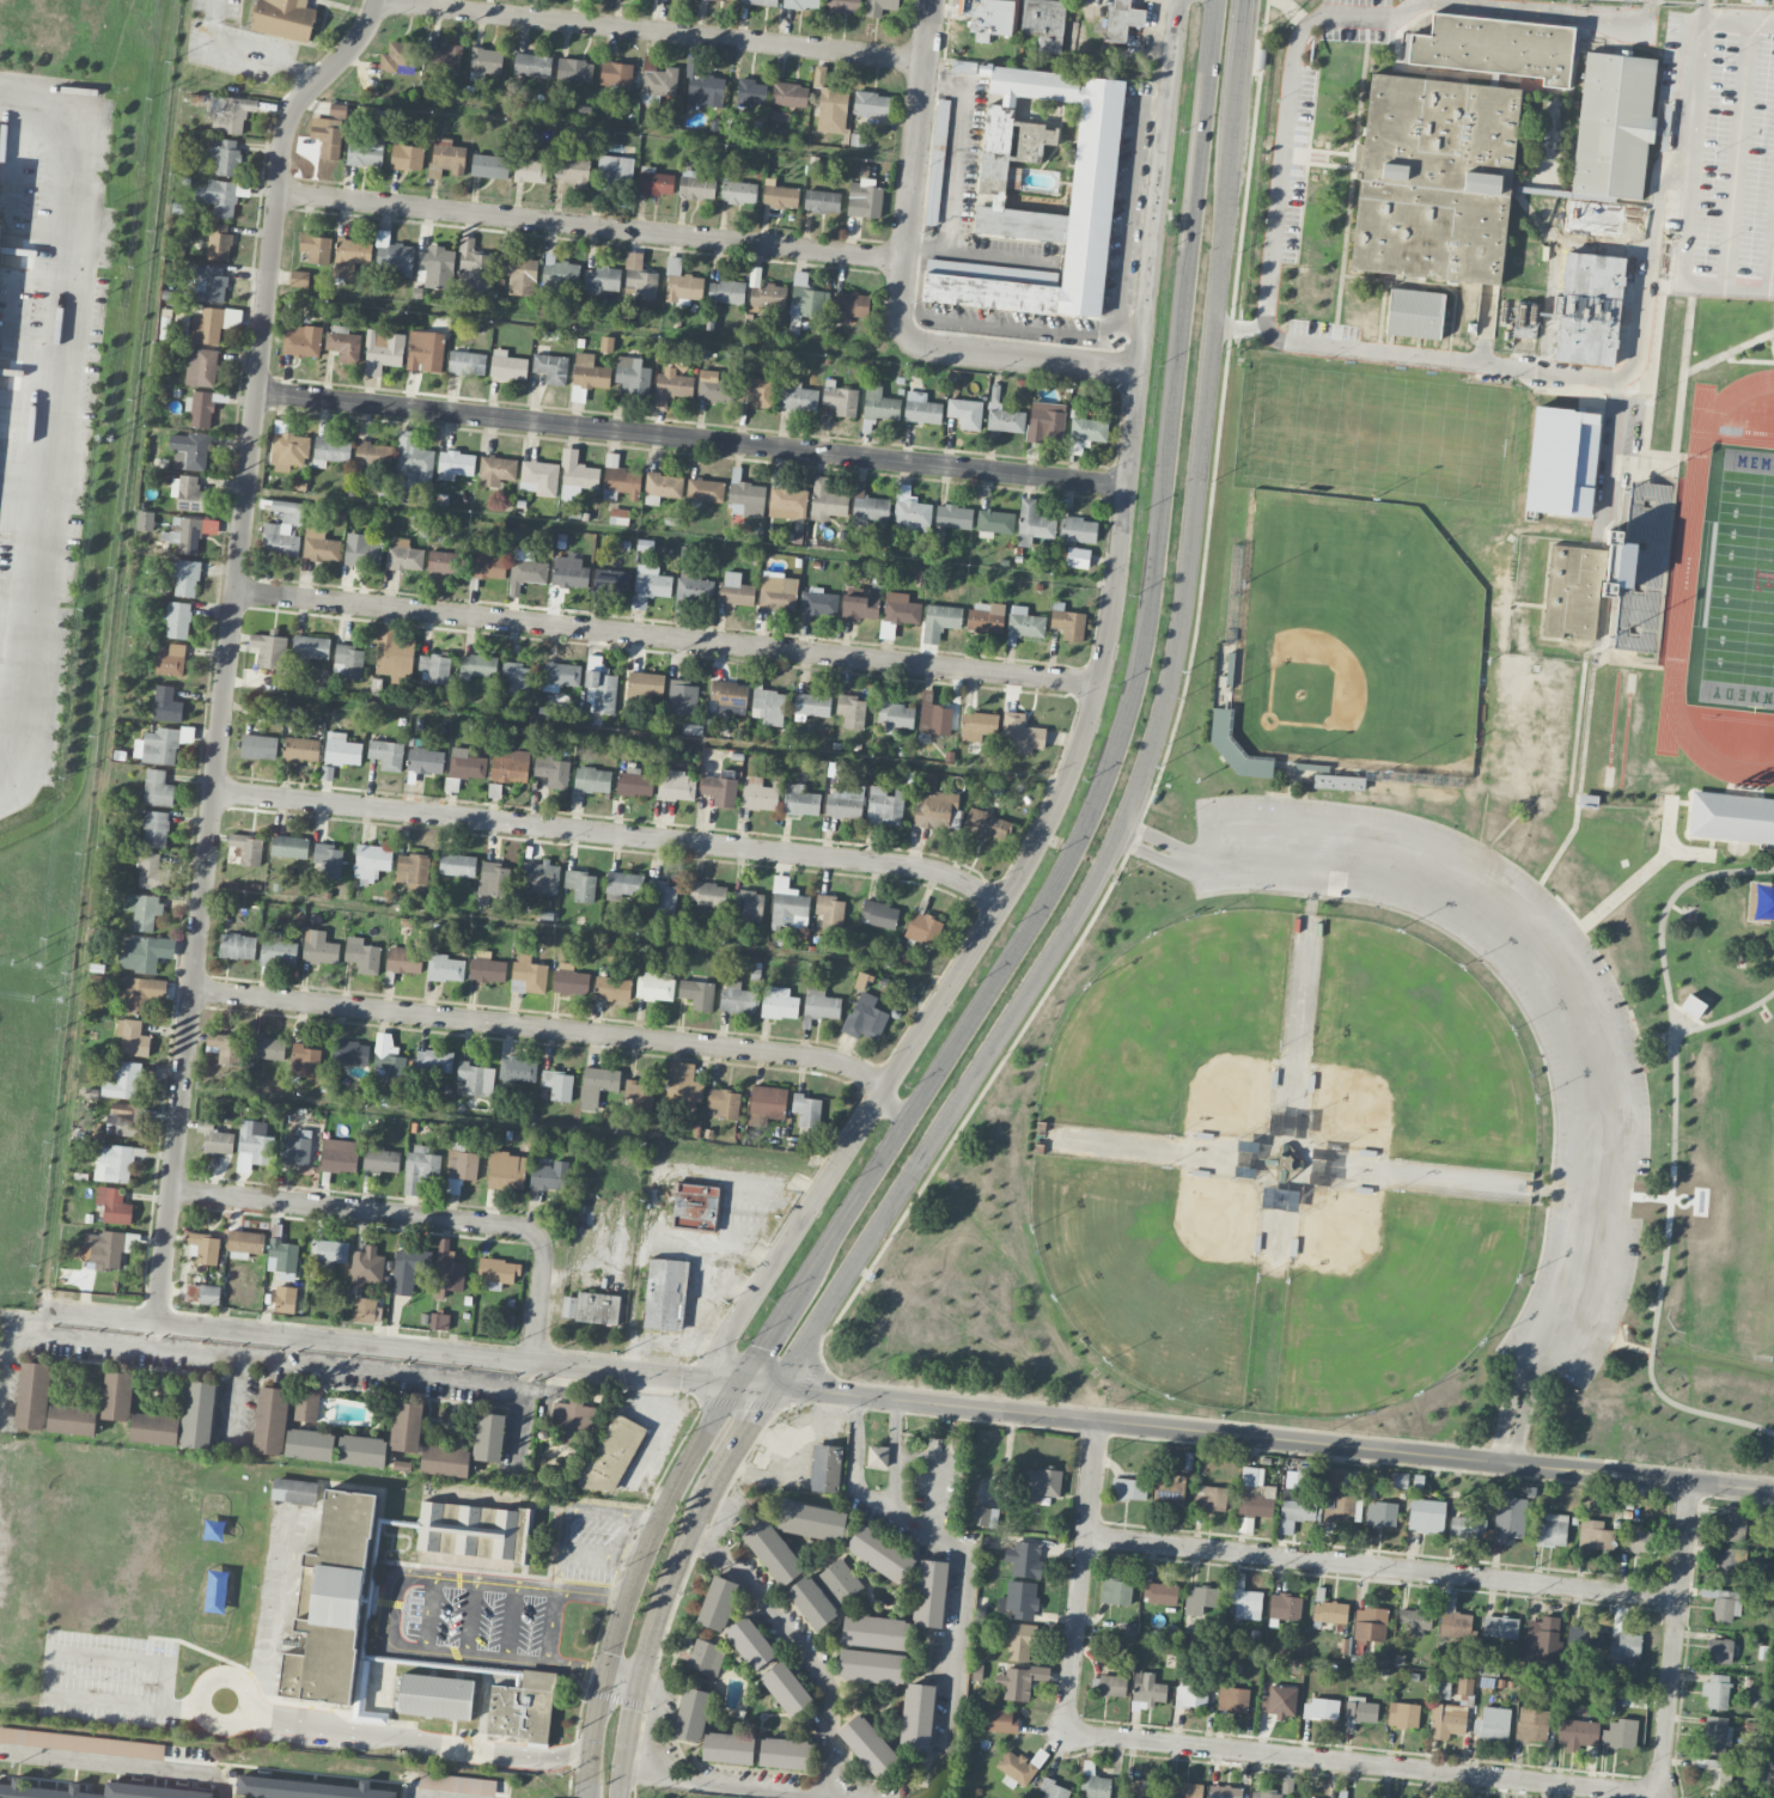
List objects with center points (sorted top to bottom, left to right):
building: (731, 0)
building: (761, 1)
building: (800, 4)
road: (1482, 5)
building: (842, 6)
building: (879, 6)
road: (1703, 8)
building: (990, 16)
building: (284, 18)
building: (1122, 19)
road: (1735, 19)
building: (1044, 22)
road: (657, 29)
building: (1495, 45)
building: (398, 57)
building: (444, 59)
building: (486, 60)
building: (532, 65)
road: (331, 67)
building: (574, 69)
building: (616, 73)
building: (819, 75)
building: (657, 80)
building: (702, 85)
building: (751, 91)
building: (790, 93)
road: (1693, 93)
building: (871, 103)
building: (831, 109)
road: (39, 114)
building: (230, 114)
building: (780, 116)
road: (611, 124)
building: (1613, 124)
building: (330, 132)
building: (364, 152)
road: (955, 154)
building: (225, 156)
building: (407, 157)
building: (446, 157)
road: (1282, 157)
building: (937, 160)
building: (489, 165)
building: (571, 169)
building: (615, 169)
building: (530, 170)
road: (914, 171)
building: (1434, 177)
building: (654, 181)
building: (0, 182)
building: (695, 185)
building: (1041, 190)
building: (738, 191)
building: (779, 195)
building: (222, 196)
building: (864, 199)
building: (822, 201)
road: (1685, 212)
building: (1613, 220)
road: (593, 226)
building: (0, 233)
building: (219, 242)
building: (316, 248)
road: (981, 252)
building: (350, 255)
building: (392, 256)
building: (435, 267)
building: (474, 268)
building: (560, 272)
building: (519, 274)
building: (299, 278)
building: (639, 278)
building: (602, 279)
building: (208, 282)
building: (682, 284)
building: (726, 291)
building: (764, 292)
building: (806, 298)
building: (851, 305)
building: (1589, 307)
road: (1120, 310)
building: (629, 311)
building: (1414, 311)
building: (1525, 319)
road: (599, 323)
building: (208, 324)
road: (1132, 329)
building: (301, 340)
building: (343, 343)
building: (606, 343)
building: (383, 351)
building: (425, 351)
road: (1024, 358)
road: (1480, 361)
building: (467, 362)
building: (507, 366)
building: (201, 367)
building: (551, 367)
building: (590, 372)
building: (632, 374)
building: (671, 385)
building: (713, 386)
building: (757, 390)
building: (798, 396)
building: (840, 398)
building: (879, 403)
building: (921, 408)
building: (201, 409)
building: (965, 413)
building: (1005, 419)
building: (1045, 421)
building: (1089, 429)
road: (693, 438)
park: (1450, 444)
building: (288, 447)
road: (43, 450)
building: (189, 450)
building: (330, 450)
building: (373, 456)
building: (413, 462)
building: (1562, 462)
building: (455, 464)
building: (496, 470)
building: (575, 474)
building: (539, 477)
building: (621, 483)
building: (662, 487)
building: (705, 489)
building: (188, 493)
building: (748, 498)
building: (827, 501)
building: (787, 502)
building: (870, 507)
building: (910, 511)
building: (953, 516)
building: (145, 520)
building: (995, 520)
building: (1032, 523)
building: (1078, 529)
building: (282, 530)
building: (189, 532)
road: (682, 535)
building: (319, 543)
building: (361, 550)
building: (403, 555)
building: (1078, 557)
building: (446, 562)
building: (487, 565)
building: (1642, 565)
building: (528, 567)
track: (1684, 568)
building: (569, 571)
road: (1117, 571)
building: (184, 577)
building: (611, 579)
stadium: (1675, 584)
park: (1735, 584)
building: (650, 586)
building: (694, 587)
building: (734, 590)
building: (778, 591)
building: (1574, 591)
building: (818, 602)
building: (860, 608)
building: (901, 609)
building: (986, 616)
building: (177, 620)
building: (939, 621)
building: (1067, 622)
building: (1023, 623)
park: (1355, 634)
road: (666, 636)
building: (309, 647)
building: (269, 648)
building: (394, 653)
road: (112, 656)
building: (171, 660)
building: (348, 662)
building: (477, 665)
building: (435, 668)
building: (560, 675)
building: (517, 677)
road: (1133, 678)
building: (645, 684)
building: (599, 688)
building: (727, 693)
building: (682, 697)
building: (166, 703)
building: (768, 706)
building: (811, 706)
building: (851, 711)
building: (894, 712)
building: (934, 715)
building: (977, 725)
road: (220, 729)
building: (1020, 732)
road: (647, 733)
building: (160, 744)
building: (258, 746)
building: (300, 749)
building: (341, 749)
building: (386, 754)
building: (425, 760)
building: (465, 764)
building: (510, 766)
building: (551, 769)
building: (327, 772)
building: (592, 779)
building: (1339, 781)
building: (634, 782)
building: (675, 785)
building: (158, 788)
building: (719, 790)
building: (757, 794)
building: (846, 799)
building: (800, 800)
building: (884, 805)
building: (934, 809)
building: (1732, 816)
building: (987, 824)
building: (156, 829)
road: (612, 834)
road: (1159, 837)
building: (289, 846)
building: (248, 848)
road: (1151, 857)
building: (328, 860)
building: (371, 861)
building: (457, 865)
building: (413, 867)
building: (151, 871)
building: (541, 877)
building: (493, 878)
building: (623, 883)
building: (580, 884)
building: (707, 894)
building: (662, 897)
building: (748, 903)
building: (788, 904)
building: (144, 910)
building: (829, 912)
building: (878, 914)
road: (578, 927)
building: (923, 928)
road: (1063, 944)
building: (237, 946)
building: (319, 947)
building: (276, 949)
building: (145, 952)
building: (362, 955)
building: (404, 961)
road: (1575, 964)
building: (487, 967)
building: (445, 968)
building: (528, 975)
building: (569, 980)
building: (654, 985)
building: (612, 988)
road: (1537, 991)
building: (140, 993)
building: (697, 994)
building: (737, 998)
building: (779, 1002)
building: (821, 1004)
building: (865, 1018)
road: (541, 1026)
road: (1696, 1026)
park: (1177, 1030)
building: (134, 1038)
building: (221, 1047)
building: (266, 1048)
building: (350, 1053)
park: (1412, 1056)
building: (389, 1059)
building: (434, 1060)
building: (305, 1061)
building: (517, 1069)
building: (476, 1078)
building: (123, 1080)
building: (559, 1084)
building: (597, 1085)
building: (683, 1085)
road: (883, 1091)
building: (641, 1096)
parking lot: (1598, 1096)
building: (724, 1103)
building: (767, 1103)
building: (806, 1109)
road: (891, 1109)
building: (124, 1120)
road: (508, 1126)
park: (1380, 1135)
building: (215, 1138)
building: (252, 1147)
building: (295, 1147)
building: (1245, 1151)
road: (1672, 1152)
building: (339, 1156)
building: (382, 1159)
building: (1282, 1159)
building: (114, 1163)
building: (420, 1165)
building: (461, 1166)
building: (506, 1170)
building: (548, 1177)
road: (1599, 1191)
road: (1647, 1196)
building: (114, 1205)
building: (695, 1206)
road: (417, 1215)
park: (1736, 1231)
road: (791, 1237)
building: (245, 1243)
building: (109, 1248)
building: (205, 1248)
building: (282, 1256)
building: (366, 1266)
park: (1152, 1267)
building: (408, 1269)
building: (447, 1269)
building: (496, 1273)
building: (202, 1293)
building: (664, 1293)
park: (1390, 1293)
building: (285, 1299)
building: (591, 1308)
building: (366, 1309)
building: (439, 1321)
road: (773, 1328)
traffic signals: (739, 1381)
traffic signals: (781, 1386)
building: (33, 1395)
building: (117, 1395)
road: (906, 1398)
building: (305, 1404)
road: (1506, 1409)
road: (1525, 1410)
building: (197, 1414)
building: (72, 1419)
building: (270, 1420)
building: (572, 1420)
building: (406, 1426)
building: (154, 1428)
building: (488, 1437)
building: (310, 1444)
building: (361, 1450)
building: (612, 1453)
road: (897, 1453)
building: (877, 1456)
road: (1508, 1457)
building: (445, 1461)
building: (825, 1468)
building: (1334, 1477)
building: (1400, 1480)
building: (1041, 1483)
building: (1169, 1486)
building: (1128, 1488)
building: (294, 1491)
building: (1255, 1493)
building: (1211, 1498)
building: (1339, 1506)
building: (1298, 1509)
building: (1380, 1513)
building: (1426, 1514)
building: (983, 1516)
building: (1508, 1519)
building: (811, 1520)
building: (1735, 1523)
building: (1468, 1526)
building: (1552, 1530)
building: (473, 1531)
building: (1595, 1535)
building: (1636, 1538)
building: (773, 1552)
building: (879, 1553)
building: (1024, 1559)
building: (1731, 1564)
road: (963, 1565)
road: (1383, 1566)
road: (1081, 1575)
road: (634, 1579)
building: (840, 1581)
building: (1116, 1591)
building: (929, 1592)
building: (1160, 1593)
building: (1243, 1597)
building: (1019, 1598)
building: (1199, 1599)
building: (333, 1602)
building: (811, 1602)
road: (389, 1603)
building: (718, 1603)
building: (1724, 1603)
building: (1285, 1607)
building: (1329, 1613)
road: (432, 1615)
building: (1414, 1617)
road: (471, 1619)
building: (1452, 1619)
road: (511, 1623)
building: (1370, 1623)
building: (1500, 1626)
road: (551, 1628)
building: (874, 1632)
road: (1675, 1635)
building: (1596, 1639)
building: (1020, 1641)
building: (1542, 1641)
building: (750, 1642)
building: (1626, 1645)
building: (1719, 1650)
building: (706, 1657)
building: (871, 1666)
road: (50, 1680)
building: (1019, 1681)
road: (233, 1683)
building: (1112, 1686)
building: (1464, 1686)
building: (786, 1688)
building: (1147, 1688)
building: (1441, 1689)
building: (1715, 1690)
building: (1190, 1692)
building: (435, 1696)
building: (1231, 1698)
building: (1279, 1700)
building: (522, 1707)
building: (1322, 1708)
building: (1360, 1708)
building: (691, 1714)
building: (1403, 1714)
building: (373, 1715)
building: (916, 1717)
building: (999, 1720)
building: (1446, 1720)
building: (1492, 1723)
building: (1531, 1724)
building: (1578, 1732)
building: (1620, 1733)
building: (1715, 1735)
road: (413, 1739)
building: (81, 1743)
building: (868, 1745)
building: (727, 1748)
building: (784, 1753)
road: (1361, 1762)
building: (1019, 1767)
road: (633, 1772)
road: (828, 1774)
building: (1717, 1778)
building: (1093, 1782)
building: (457, 1784)
building: (309, 1787)
building: (39, 1788)
building: (1162, 1788)
building: (1053, 1790)
building: (1224, 1791)
road: (870, 1793)
building: (1264, 1793)
building: (1341, 1793)
road: (431, 1796)
building: (1299, 1797)

